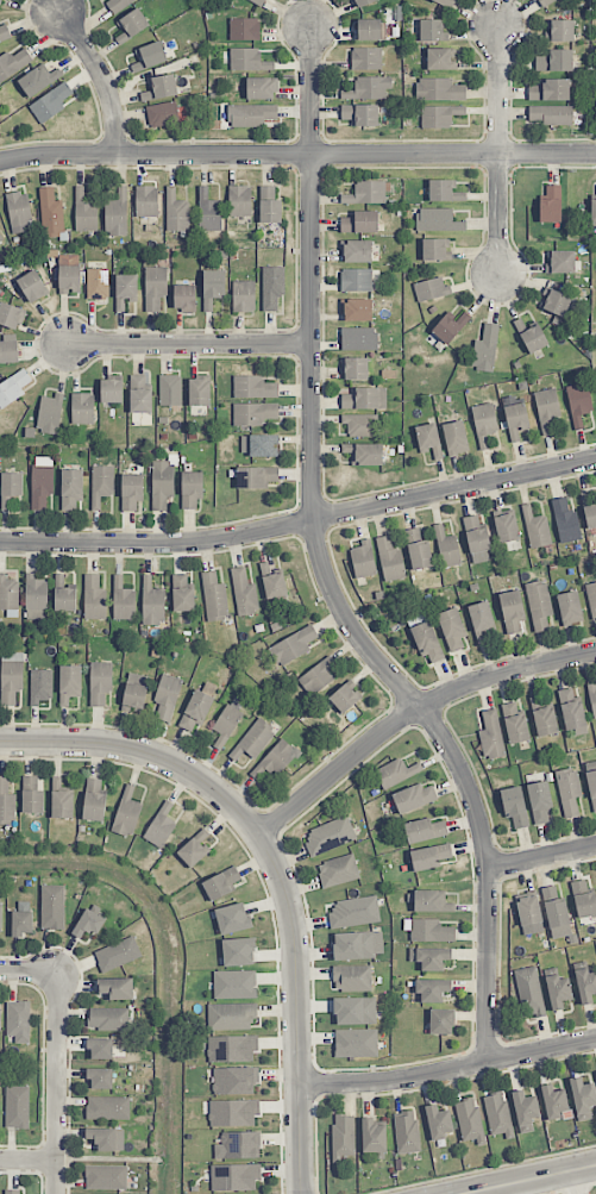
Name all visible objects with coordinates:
building: (2, 1)
building: (259, 1)
building: (362, 2)
building: (446, 2)
building: (118, 4)
building: (132, 25)
building: (244, 29)
building: (369, 29)
building: (432, 30)
building: (560, 30)
building: (4, 31)
building: (150, 56)
building: (366, 58)
building: (440, 58)
building: (249, 60)
building: (554, 61)
building: (13, 63)
road: (102, 79)
building: (38, 80)
building: (161, 87)
building: (369, 87)
building: (262, 88)
building: (439, 89)
building: (550, 90)
building: (50, 102)
building: (162, 114)
building: (251, 114)
building: (360, 114)
building: (551, 114)
building: (439, 115)
road: (498, 152)
road: (297, 156)
building: (445, 190)
building: (368, 192)
building: (239, 200)
building: (146, 201)
building: (270, 205)
building: (551, 205)
building: (592, 210)
building: (176, 211)
building: (208, 211)
building: (19, 212)
building: (84, 212)
building: (51, 213)
building: (117, 213)
building: (438, 219)
building: (360, 221)
building: (1, 238)
building: (435, 249)
building: (357, 251)
building: (560, 261)
building: (69, 274)
building: (356, 280)
building: (98, 283)
building: (32, 286)
building: (155, 287)
building: (213, 287)
building: (272, 287)
building: (125, 289)
building: (431, 289)
building: (243, 296)
building: (184, 298)
building: (556, 302)
building: (357, 310)
building: (11, 315)
building: (450, 326)
building: (531, 336)
building: (358, 338)
road: (189, 345)
building: (8, 348)
building: (485, 348)
building: (355, 368)
building: (253, 387)
building: (13, 388)
building: (170, 389)
building: (111, 390)
building: (199, 392)
building: (139, 393)
building: (364, 398)
building: (578, 402)
building: (82, 408)
building: (547, 410)
building: (50, 413)
building: (253, 413)
building: (515, 417)
building: (484, 423)
building: (362, 424)
building: (428, 438)
building: (456, 438)
building: (258, 445)
building: (368, 454)
building: (256, 476)
building: (42, 481)
building: (101, 483)
building: (162, 483)
building: (11, 487)
building: (71, 488)
building: (190, 489)
building: (131, 490)
building: (590, 515)
building: (565, 520)
road: (300, 523)
building: (506, 527)
building: (537, 529)
building: (477, 538)
building: (446, 546)
building: (418, 550)
building: (363, 560)
building: (389, 560)
road: (325, 570)
building: (274, 586)
building: (244, 592)
building: (64, 594)
building: (182, 594)
building: (8, 595)
building: (591, 596)
building: (36, 598)
building: (94, 598)
building: (214, 598)
building: (123, 600)
building: (152, 602)
building: (539, 605)
building: (570, 607)
building: (512, 611)
building: (481, 617)
building: (452, 629)
building: (427, 642)
building: (291, 645)
building: (11, 676)
building: (318, 677)
building: (100, 682)
building: (69, 683)
building: (40, 686)
building: (136, 690)
building: (167, 695)
building: (344, 698)
building: (592, 699)
building: (196, 709)
building: (571, 712)
road: (410, 713)
building: (545, 721)
building: (515, 724)
building: (491, 734)
building: (253, 739)
road: (143, 754)
building: (275, 759)
building: (395, 773)
building: (591, 782)
building: (569, 790)
building: (31, 795)
building: (414, 798)
building: (61, 799)
building: (94, 800)
building: (6, 801)
building: (540, 801)
building: (515, 806)
building: (127, 812)
building: (161, 826)
building: (424, 830)
building: (330, 834)
building: (194, 849)
building: (429, 856)
road: (542, 858)
building: (338, 870)
building: (221, 883)
building: (584, 899)
building: (429, 901)
building: (52, 907)
building: (528, 909)
building: (355, 911)
building: (556, 913)
building: (1, 917)
building: (232, 918)
building: (23, 923)
building: (88, 923)
building: (428, 930)
building: (353, 945)
building: (238, 951)
building: (118, 954)
building: (429, 957)
road: (30, 971)
building: (352, 977)
building: (234, 984)
building: (585, 984)
building: (115, 988)
building: (432, 989)
building: (529, 992)
building: (558, 992)
building: (355, 1011)
road: (297, 1012)
building: (231, 1015)
building: (108, 1018)
building: (0, 1020)
building: (18, 1020)
building: (441, 1021)
building: (356, 1043)
building: (100, 1048)
building: (232, 1048)
road: (448, 1073)
building: (99, 1079)
building: (234, 1080)
road: (57, 1082)
building: (583, 1098)
building: (554, 1101)
building: (17, 1107)
building: (107, 1107)
building: (525, 1109)
building: (233, 1112)
building: (497, 1113)
building: (469, 1120)
building: (439, 1121)
building: (406, 1131)
building: (343, 1136)
building: (372, 1136)
building: (107, 1138)
building: (238, 1145)
road: (27, 1161)
building: (106, 1176)
building: (234, 1176)
road: (523, 1177)
road: (576, 1181)
building: (12, 1192)

